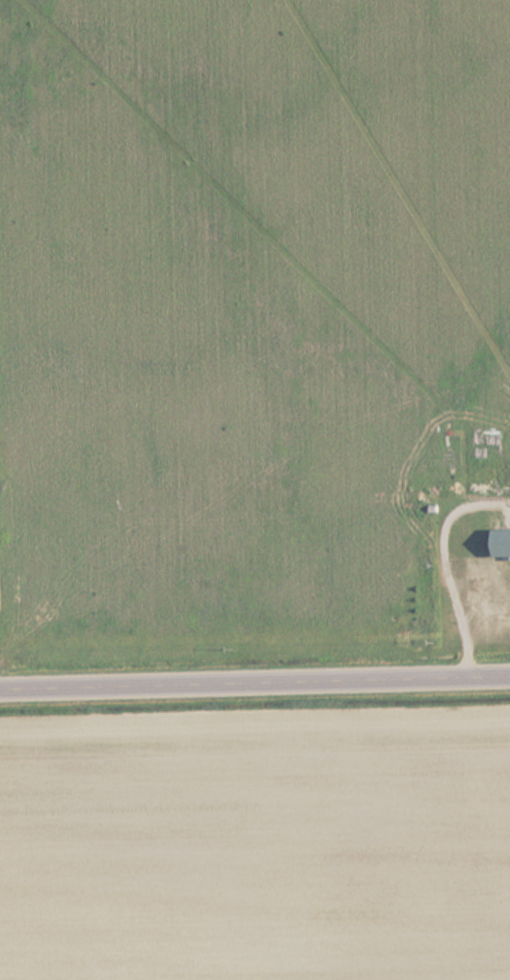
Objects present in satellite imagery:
building: (502, 542)
building: (483, 580)
road: (255, 679)

